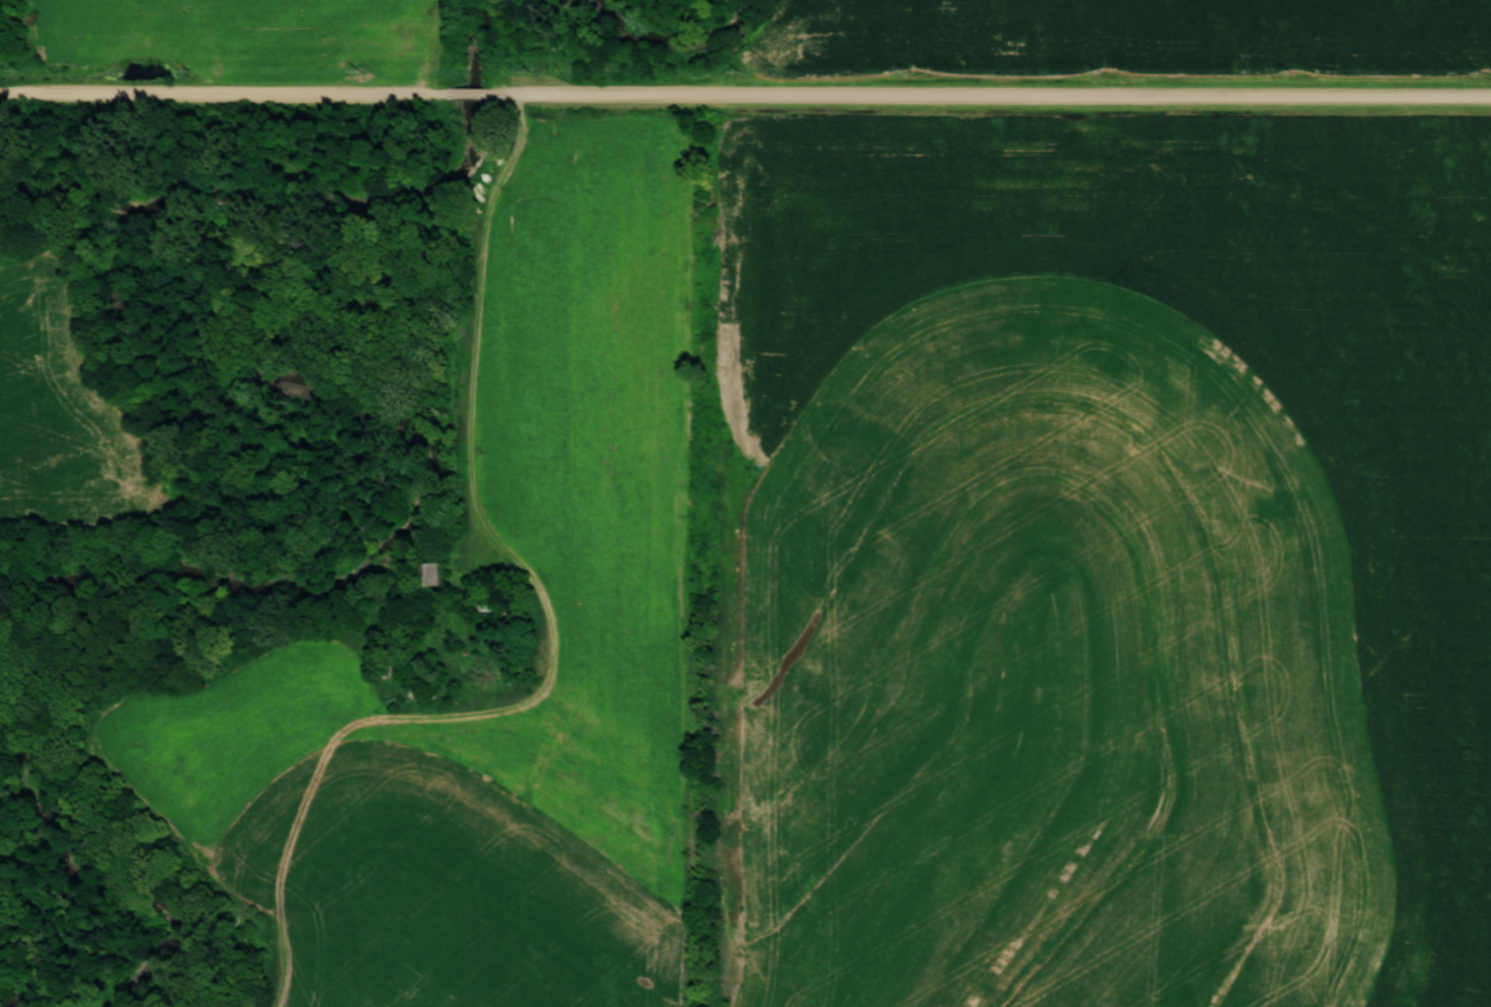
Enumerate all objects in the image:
road: (745, 95)
building: (427, 572)

